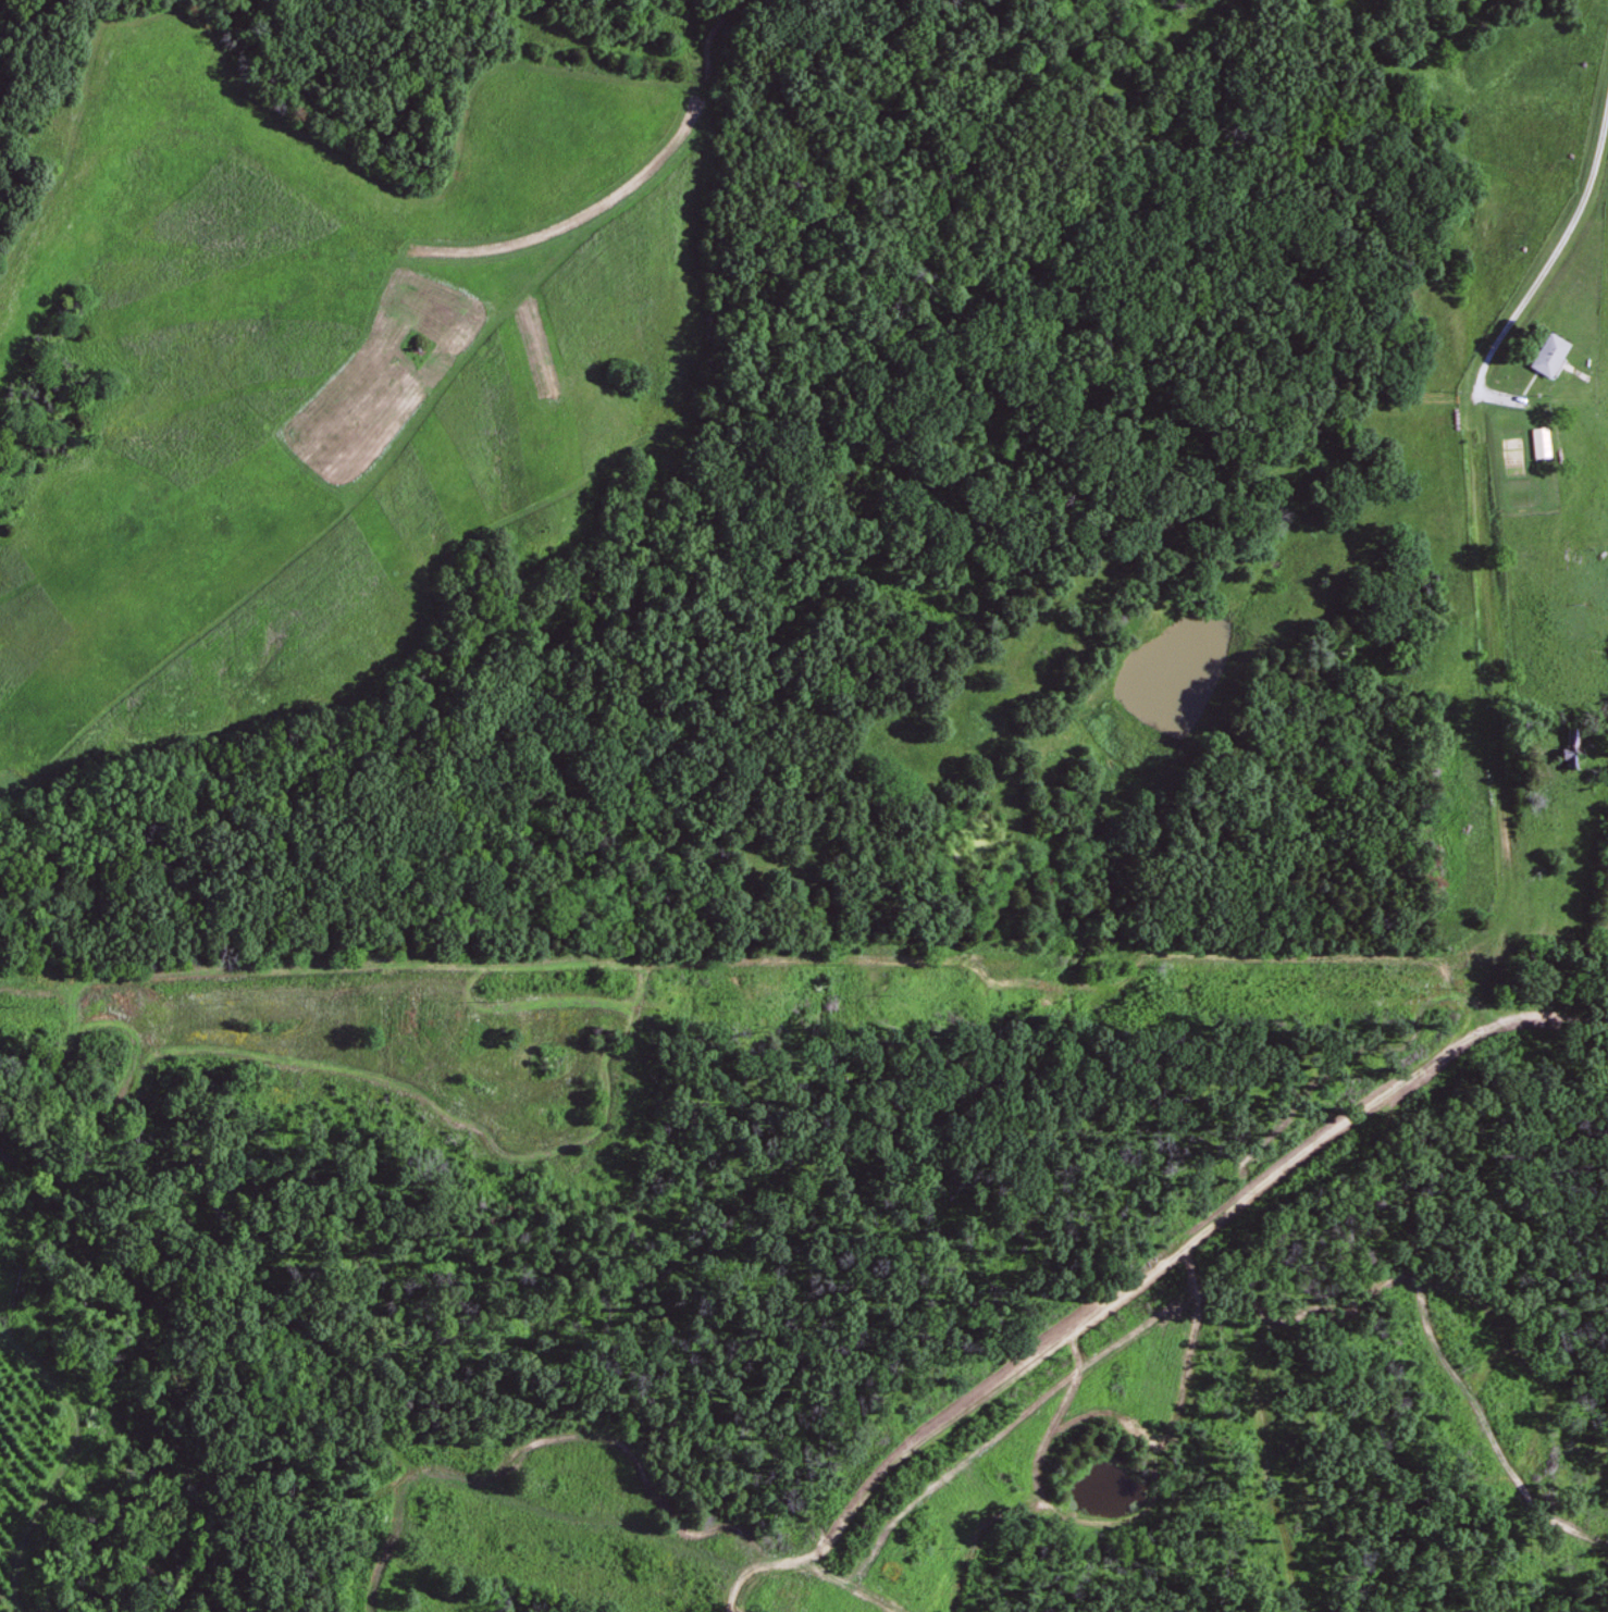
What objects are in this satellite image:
building: (1545, 357)
building: (1535, 444)
road: (1488, 587)
building: (1567, 761)

